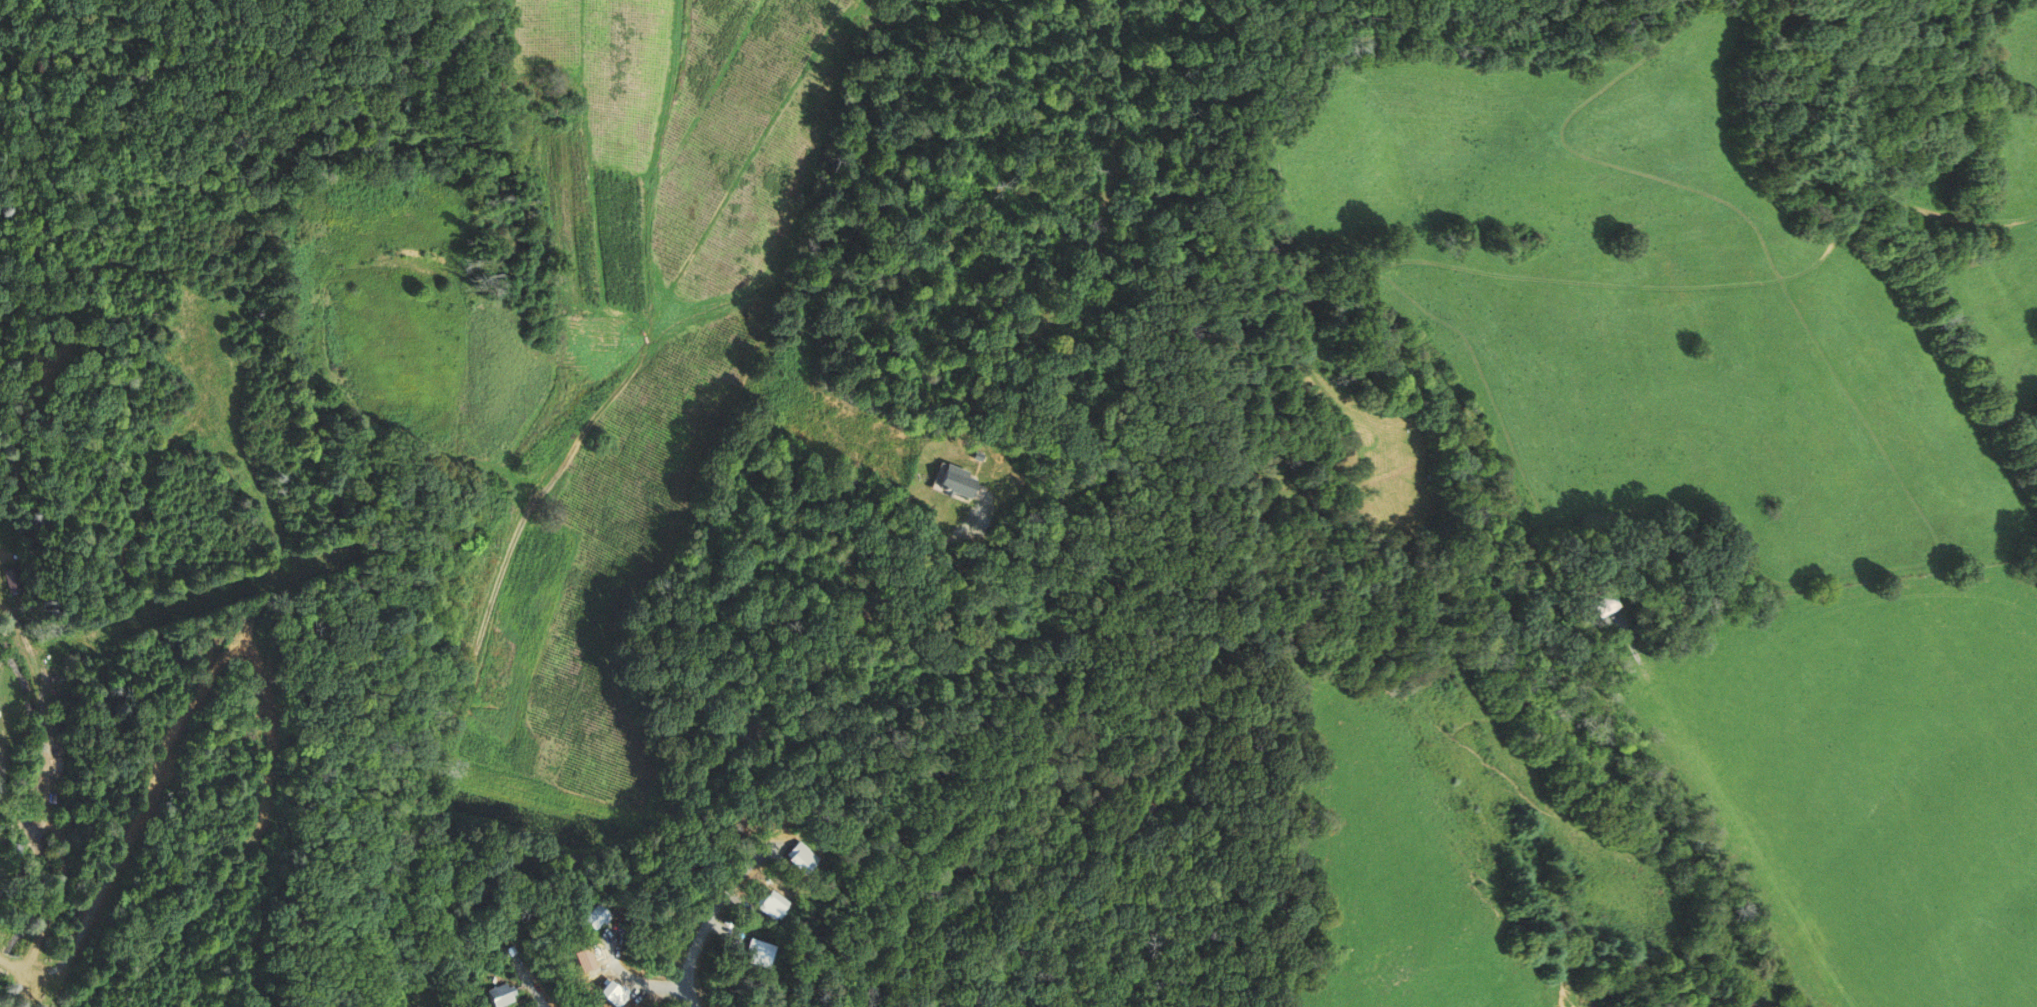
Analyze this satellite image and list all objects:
building: (9, 582)
road: (697, 937)
road: (630, 974)
road: (529, 981)

